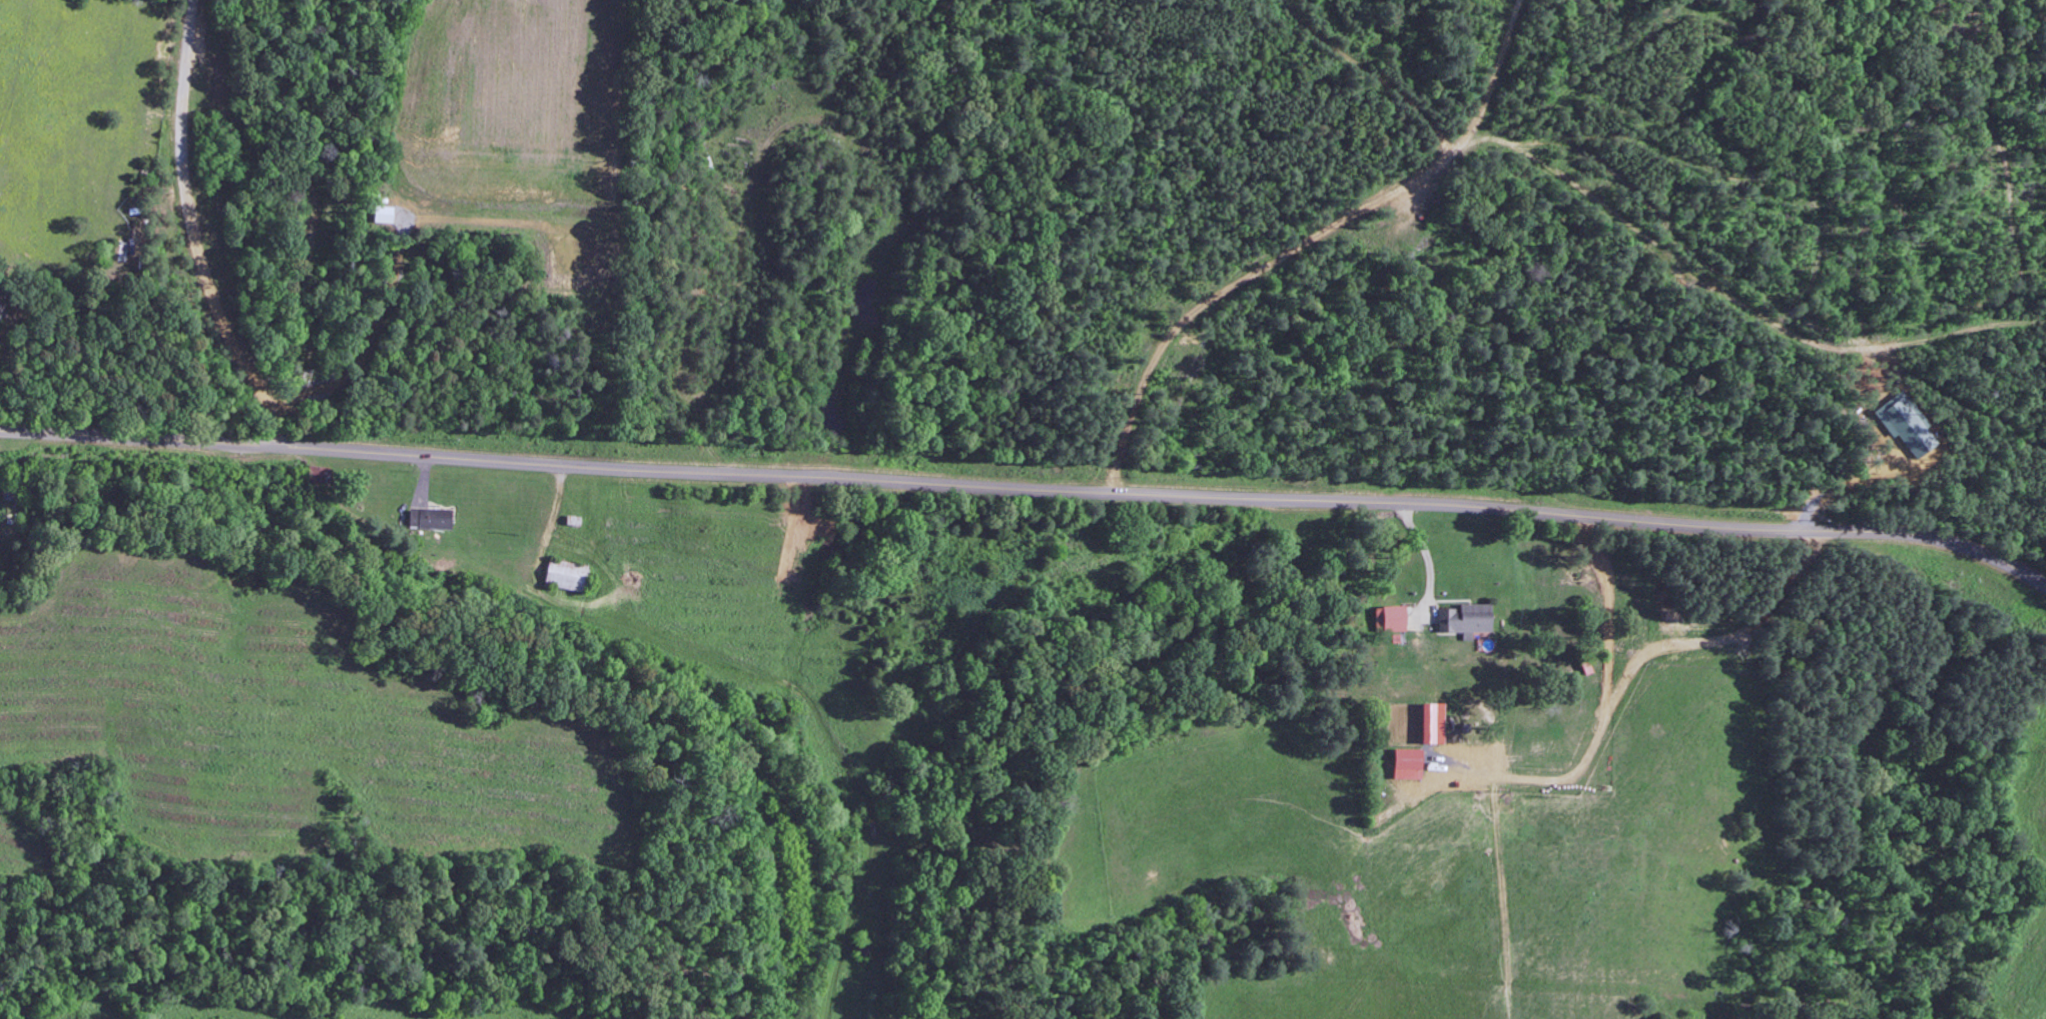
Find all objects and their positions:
building: (379, 215)
road: (194, 232)
building: (0, 303)
road: (1028, 490)
building: (429, 519)
building: (1391, 619)
building: (1466, 620)
building: (1426, 725)
building: (1407, 760)

